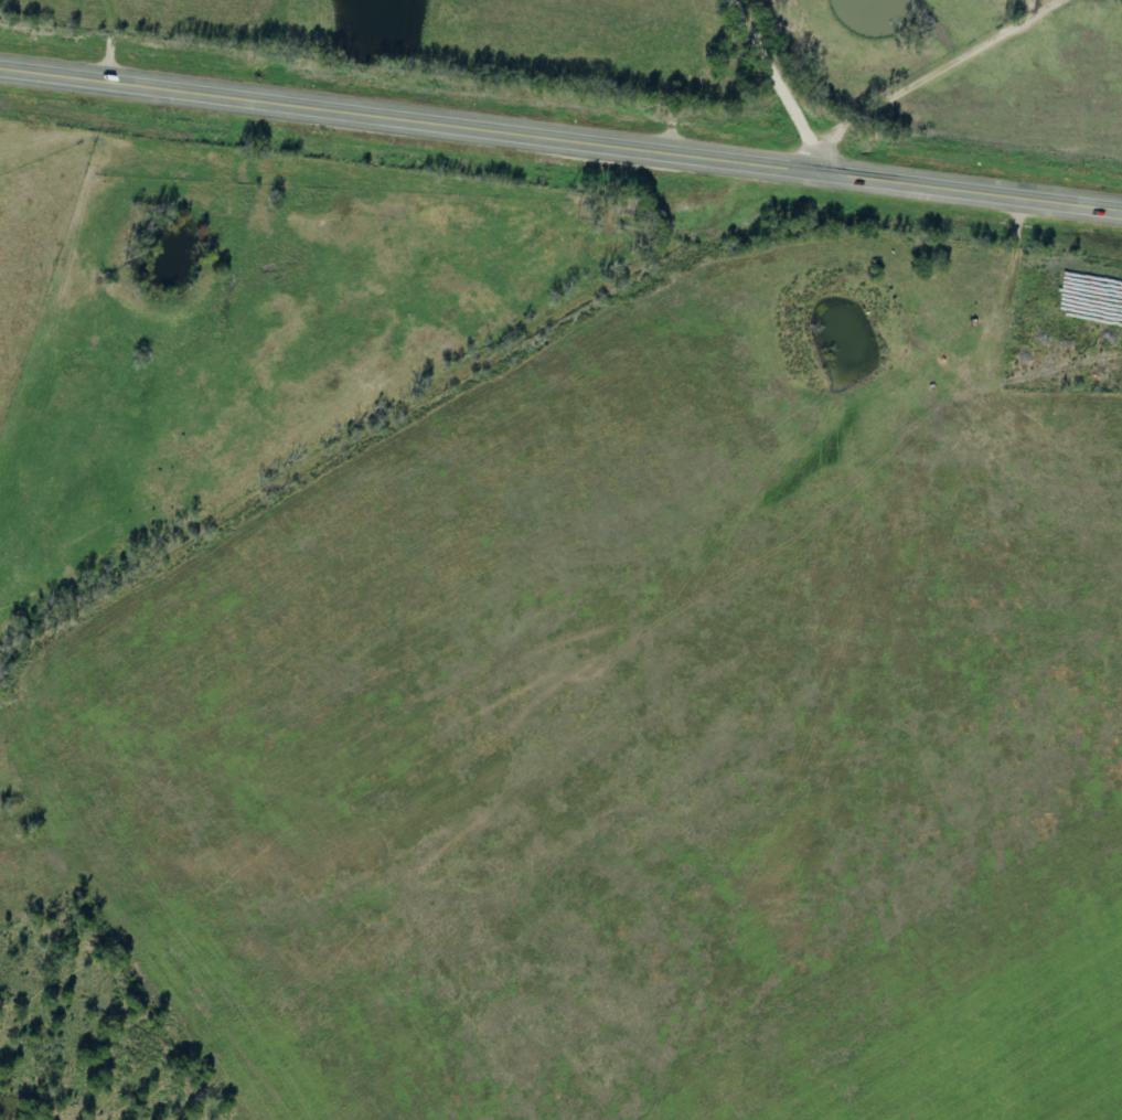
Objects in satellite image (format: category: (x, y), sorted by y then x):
road: (786, 79)
road: (940, 81)
road: (560, 127)

